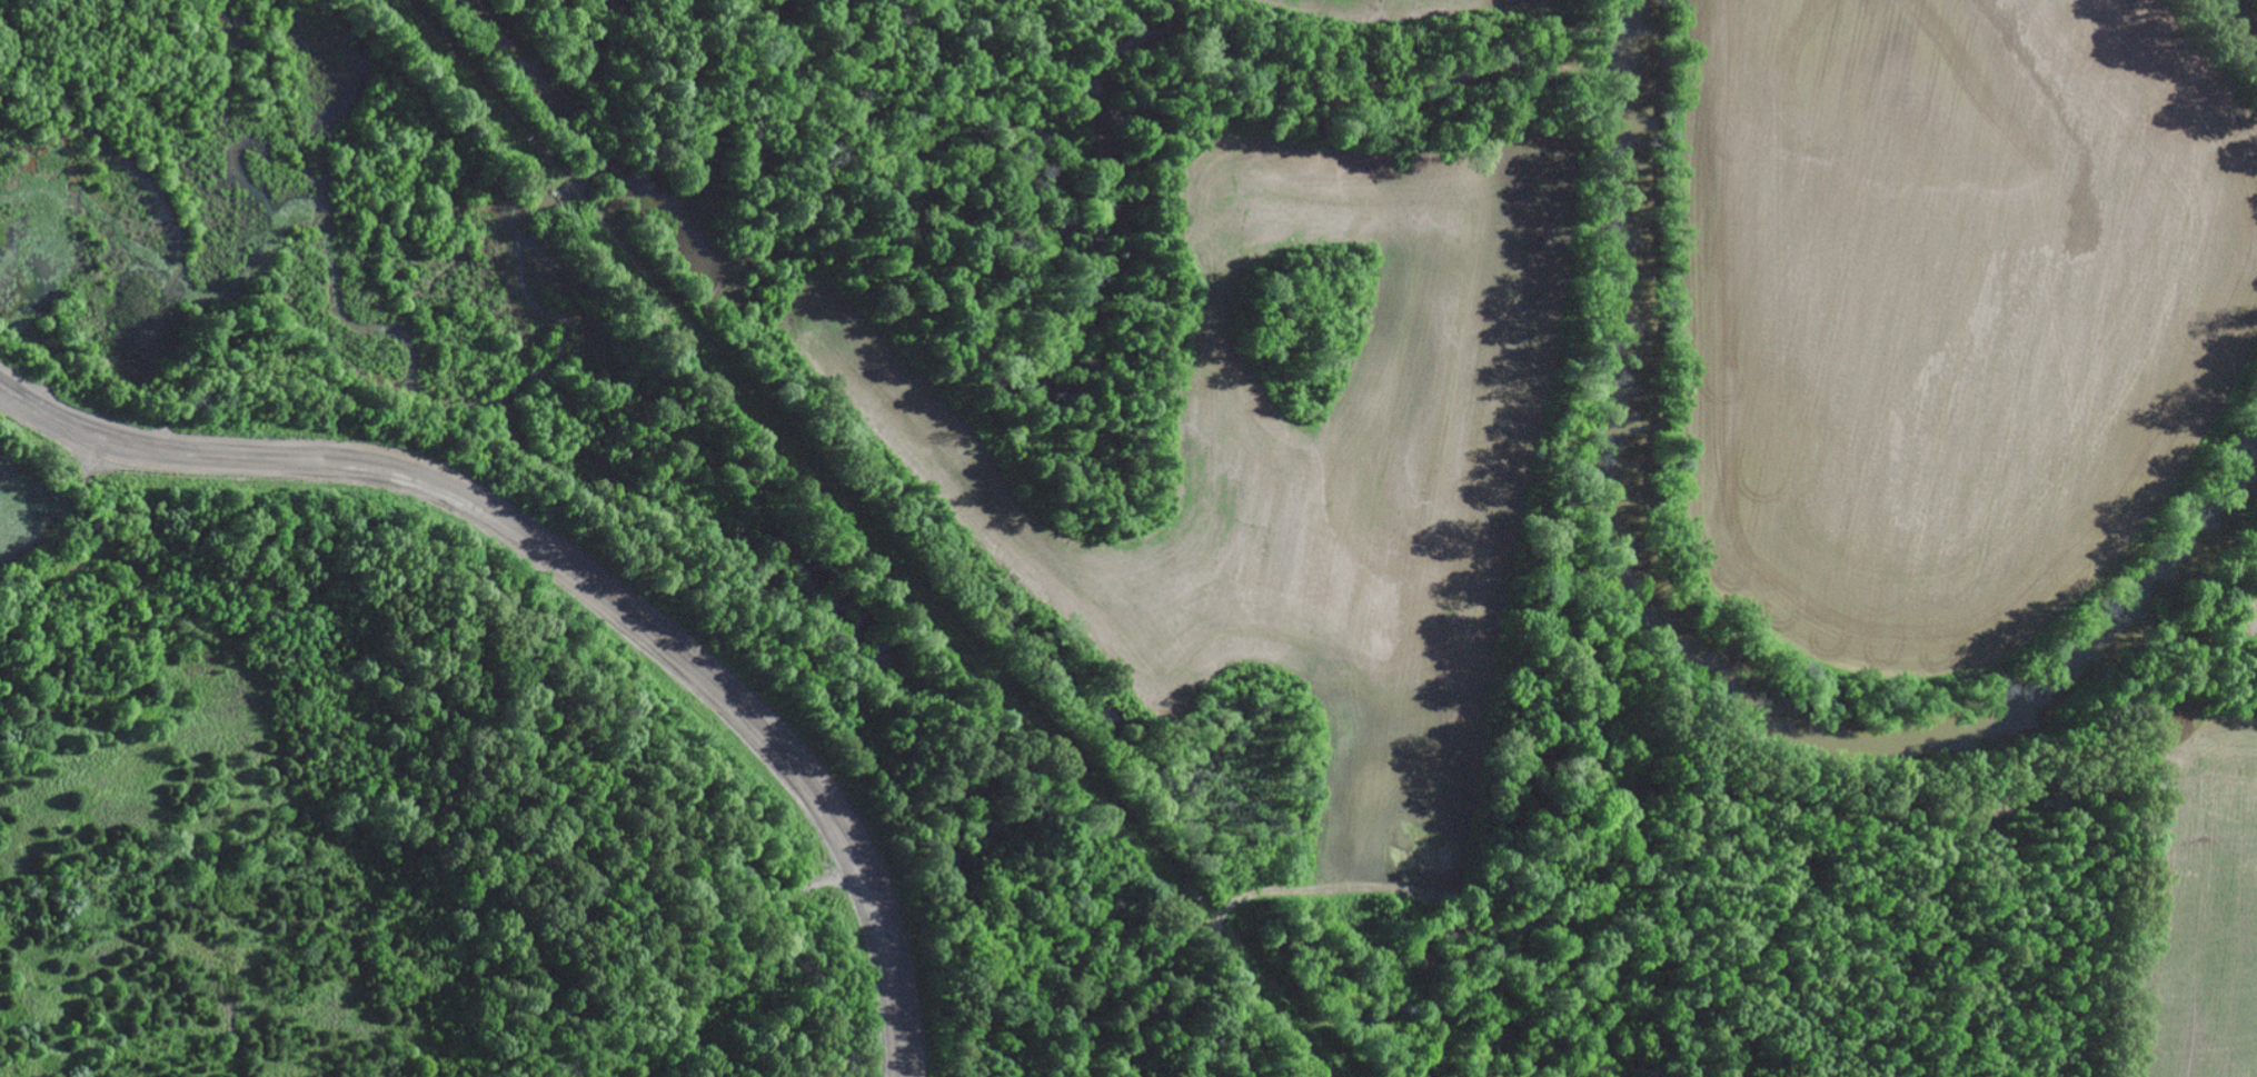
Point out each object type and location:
river: (2249, 10)
road: (579, 576)
river: (1703, 664)

